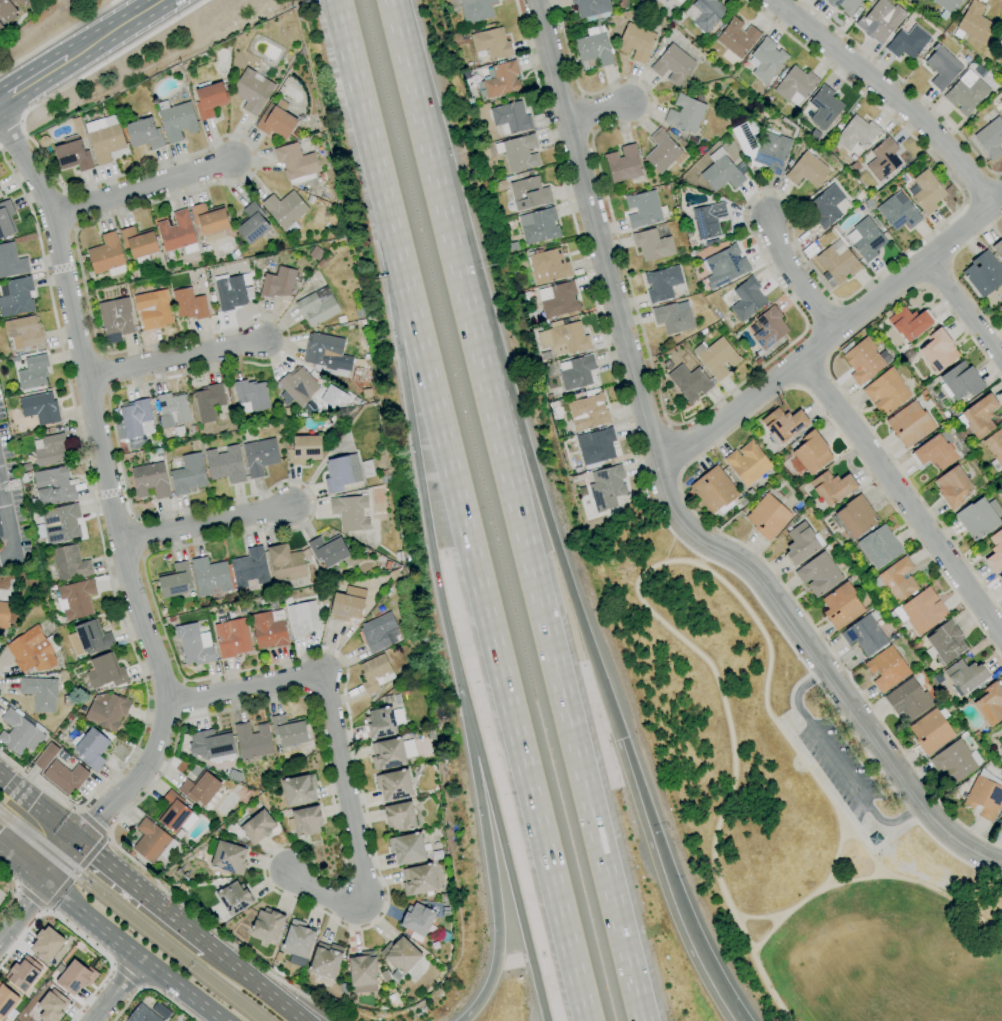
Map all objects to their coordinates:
building: (685, 0)
building: (869, 0)
building: (623, 3)
building: (947, 5)
building: (847, 6)
building: (590, 7)
building: (10, 9)
building: (476, 10)
building: (707, 14)
building: (880, 20)
building: (975, 23)
road: (113, 29)
building: (1001, 29)
road: (56, 34)
building: (737, 38)
building: (636, 42)
building: (492, 43)
building: (908, 43)
building: (594, 49)
building: (991, 52)
building: (998, 53)
road: (350, 56)
building: (767, 60)
building: (672, 65)
building: (942, 67)
road: (33, 78)
building: (502, 79)
building: (795, 84)
road: (905, 85)
building: (252, 90)
road: (414, 92)
building: (966, 93)
road: (887, 96)
building: (209, 99)
building: (825, 107)
building: (1001, 107)
road: (599, 108)
building: (1001, 111)
road: (587, 113)
building: (685, 114)
building: (511, 117)
building: (275, 120)
building: (177, 121)
road: (10, 126)
building: (77, 127)
building: (297, 132)
building: (144, 134)
building: (814, 134)
building: (857, 135)
building: (990, 138)
building: (103, 140)
building: (43, 141)
building: (763, 148)
building: (519, 152)
building: (663, 152)
building: (72, 154)
building: (883, 159)
building: (295, 161)
building: (846, 161)
building: (624, 164)
building: (807, 170)
building: (722, 171)
building: (322, 177)
road: (142, 187)
road: (979, 188)
building: (927, 192)
building: (529, 193)
building: (0, 195)
building: (0, 197)
building: (310, 199)
building: (827, 206)
building: (285, 209)
building: (643, 209)
road: (69, 211)
building: (899, 213)
building: (6, 219)
building: (209, 219)
building: (708, 220)
building: (251, 224)
building: (541, 226)
building: (176, 232)
building: (866, 239)
building: (138, 242)
building: (652, 245)
building: (998, 249)
building: (810, 250)
building: (316, 253)
building: (106, 254)
building: (11, 261)
building: (322, 262)
building: (549, 263)
building: (725, 266)
building: (837, 266)
road: (934, 272)
building: (983, 274)
road: (951, 275)
road: (798, 277)
building: (278, 283)
building: (662, 284)
building: (232, 292)
building: (16, 297)
building: (558, 299)
building: (747, 299)
building: (189, 304)
building: (317, 306)
building: (1000, 308)
building: (153, 309)
road: (966, 311)
road: (800, 312)
building: (359, 313)
road: (822, 313)
building: (116, 317)
building: (672, 318)
building: (910, 323)
building: (769, 328)
building: (23, 333)
road: (830, 334)
building: (568, 336)
building: (676, 339)
road: (814, 349)
building: (939, 351)
building: (326, 352)
road: (175, 358)
building: (718, 358)
building: (864, 361)
road: (400, 365)
road: (105, 371)
building: (576, 372)
building: (33, 373)
road: (809, 376)
building: (961, 381)
building: (690, 382)
building: (298, 385)
road: (837, 387)
building: (886, 392)
building: (366, 393)
building: (252, 395)
building: (333, 397)
building: (208, 402)
building: (40, 408)
building: (172, 409)
building: (287, 412)
building: (588, 412)
building: (980, 416)
building: (133, 420)
building: (783, 424)
building: (910, 424)
building: (793, 444)
road: (676, 446)
building: (995, 446)
building: (598, 447)
building: (304, 449)
building: (51, 450)
building: (935, 451)
building: (812, 452)
building: (260, 456)
road: (529, 461)
building: (748, 463)
building: (225, 464)
building: (27, 467)
building: (341, 473)
building: (1001, 473)
building: (188, 474)
building: (23, 478)
building: (576, 478)
building: (150, 480)
road: (678, 481)
building: (53, 486)
building: (831, 487)
building: (953, 487)
building: (604, 490)
building: (714, 490)
road: (110, 491)
road: (665, 491)
building: (749, 493)
road: (901, 498)
road: (651, 504)
building: (350, 512)
building: (768, 517)
building: (856, 517)
building: (977, 518)
road: (201, 522)
building: (61, 524)
road: (6, 531)
building: (0, 534)
road: (100, 535)
road: (234, 535)
road: (139, 537)
building: (800, 544)
building: (879, 547)
building: (328, 550)
building: (995, 551)
building: (69, 563)
building: (285, 563)
building: (387, 565)
road: (480, 566)
building: (250, 567)
road: (644, 571)
building: (393, 575)
building: (819, 575)
building: (210, 576)
building: (1000, 578)
building: (898, 579)
building: (174, 581)
building: (77, 599)
road: (540, 603)
building: (347, 604)
building: (841, 605)
building: (923, 611)
building: (4, 615)
building: (302, 618)
building: (268, 631)
building: (380, 632)
building: (865, 633)
building: (92, 637)
building: (232, 638)
building: (946, 642)
building: (193, 645)
building: (33, 651)
building: (887, 668)
building: (106, 671)
building: (375, 673)
building: (966, 675)
road: (1, 682)
building: (40, 693)
road: (790, 698)
building: (68, 699)
building: (908, 699)
road: (183, 700)
building: (990, 704)
building: (107, 711)
road: (746, 712)
building: (383, 721)
building: (20, 731)
building: (931, 731)
building: (289, 732)
building: (430, 734)
traffic signals: (620, 738)
building: (252, 740)
building: (211, 744)
building: (1001, 747)
building: (91, 749)
road: (336, 749)
building: (391, 753)
building: (46, 756)
building: (64, 756)
building: (953, 762)
road: (838, 764)
parking lot: (839, 767)
building: (65, 777)
building: (394, 785)
building: (200, 788)
building: (299, 790)
flagpole: (73, 798)
building: (984, 798)
road: (39, 808)
park: (799, 808)
road: (80, 810)
building: (175, 813)
building: (400, 817)
road: (496, 819)
building: (1001, 820)
building: (306, 821)
road: (483, 823)
building: (256, 828)
road: (108, 836)
building: (873, 839)
traffic signals: (78, 841)
building: (150, 841)
building: (406, 848)
building: (229, 858)
road: (60, 861)
road: (22, 864)
road: (76, 872)
road: (869, 877)
building: (419, 880)
traffic signals: (44, 883)
road: (669, 883)
road: (18, 888)
road: (16, 890)
road: (142, 893)
building: (443, 897)
building: (234, 898)
road: (45, 911)
road: (22, 913)
railway: (135, 914)
road: (756, 917)
building: (417, 919)
railway: (127, 920)
building: (268, 924)
road: (78, 932)
building: (298, 939)
road: (18, 940)
building: (45, 944)
building: (435, 946)
road: (132, 952)
building: (400, 957)
building: (325, 960)
building: (58, 968)
building: (21, 971)
building: (363, 972)
building: (385, 976)
building: (74, 977)
road: (255, 983)
road: (152, 989)
road: (771, 989)
road: (116, 990)
road: (92, 994)
building: (5, 1000)
building: (50, 1005)
road: (290, 1009)
building: (142, 1014)

